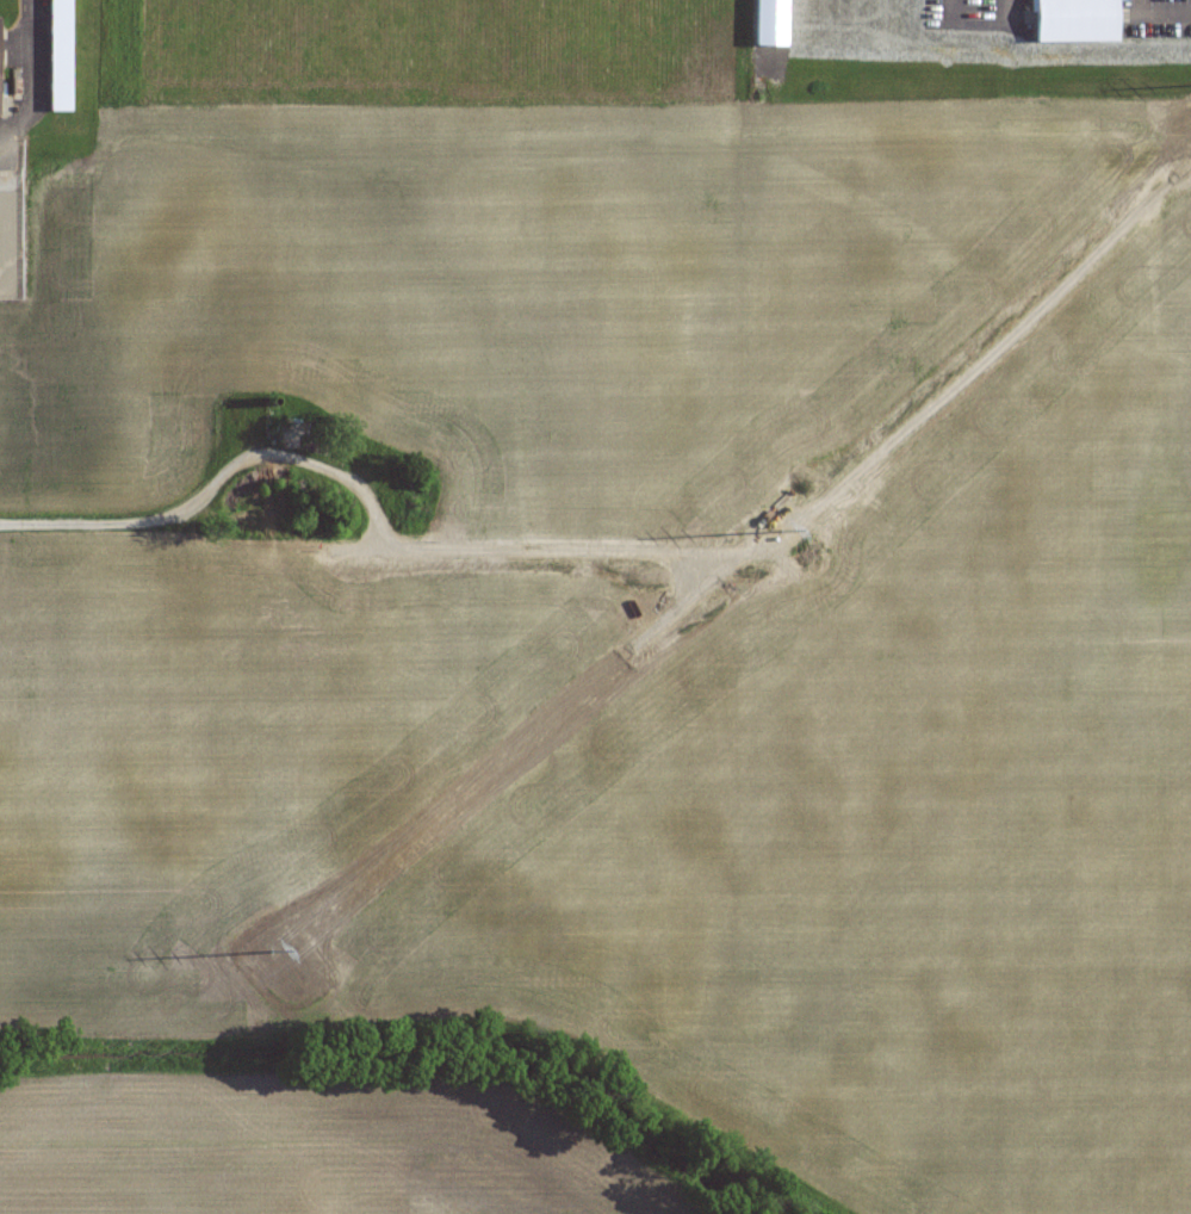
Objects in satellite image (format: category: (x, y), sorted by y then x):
building: (1078, 20)
building: (0, 55)
building: (61, 56)
road: (165, 518)
power tower: (808, 556)
power tower: (294, 978)

